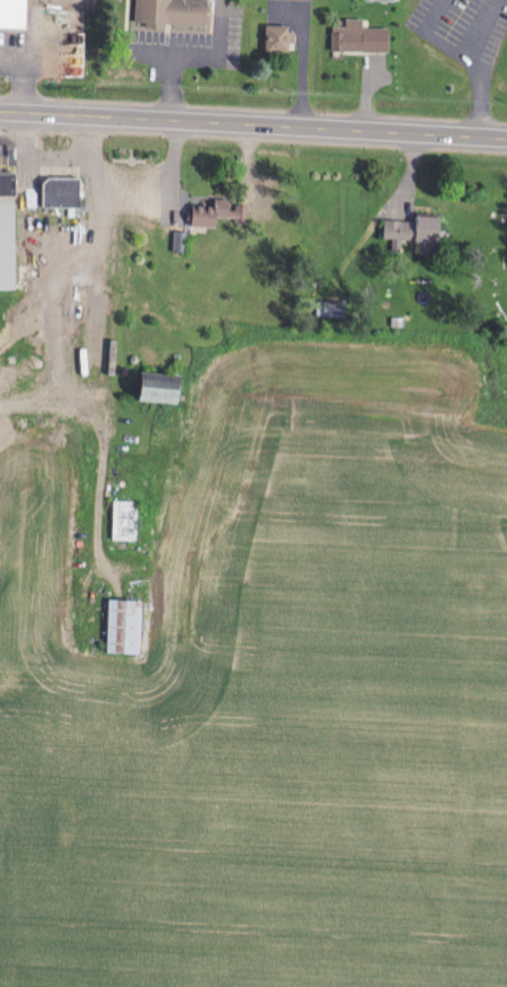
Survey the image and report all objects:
building: (287, 0)
building: (376, 2)
building: (164, 13)
building: (11, 15)
building: (272, 40)
building: (355, 41)
road: (253, 128)
building: (56, 194)
building: (202, 215)
building: (407, 231)
building: (5, 244)
building: (174, 244)
building: (319, 311)
building: (148, 391)
building: (119, 522)
building: (118, 628)

